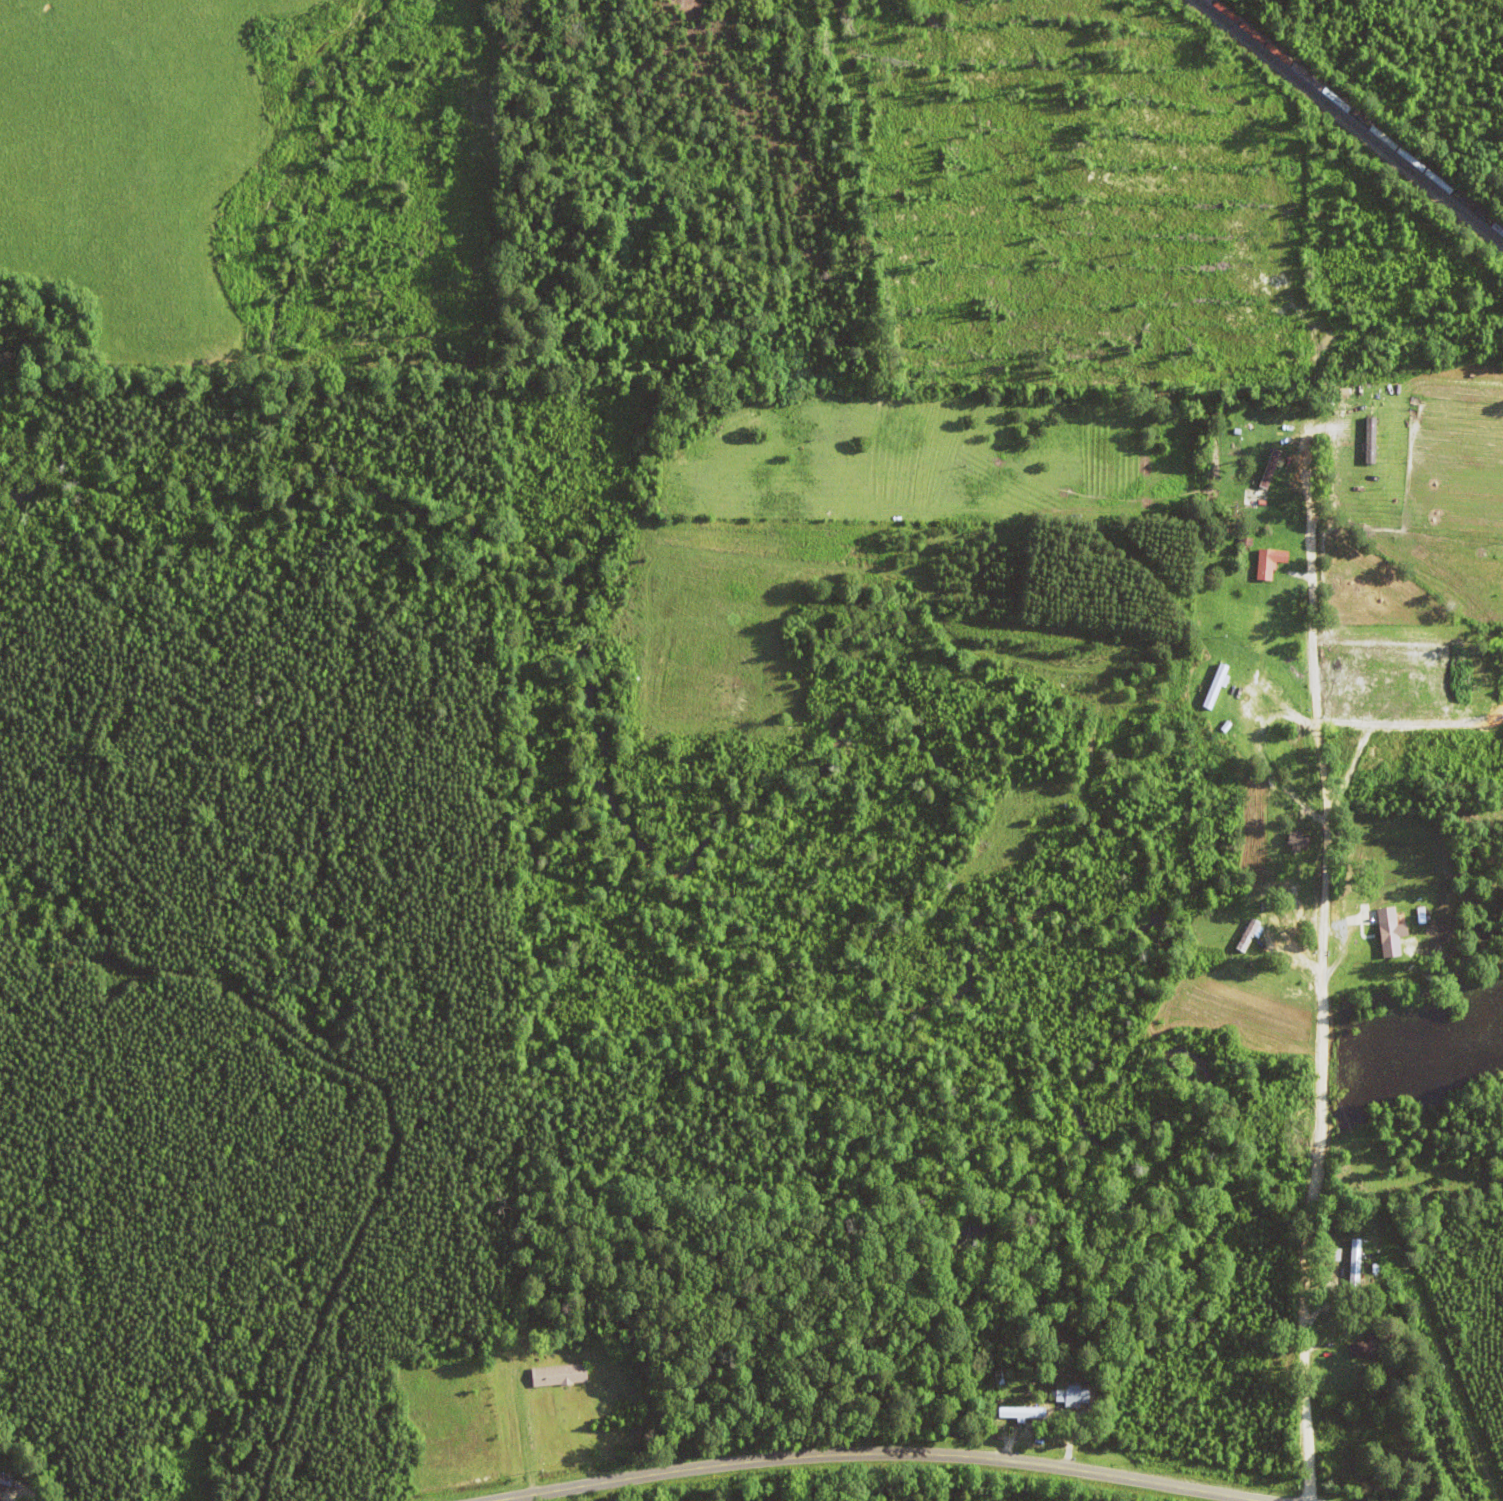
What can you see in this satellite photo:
road: (581, 32)
railway: (1318, 143)
road: (1322, 994)
road: (876, 1451)

